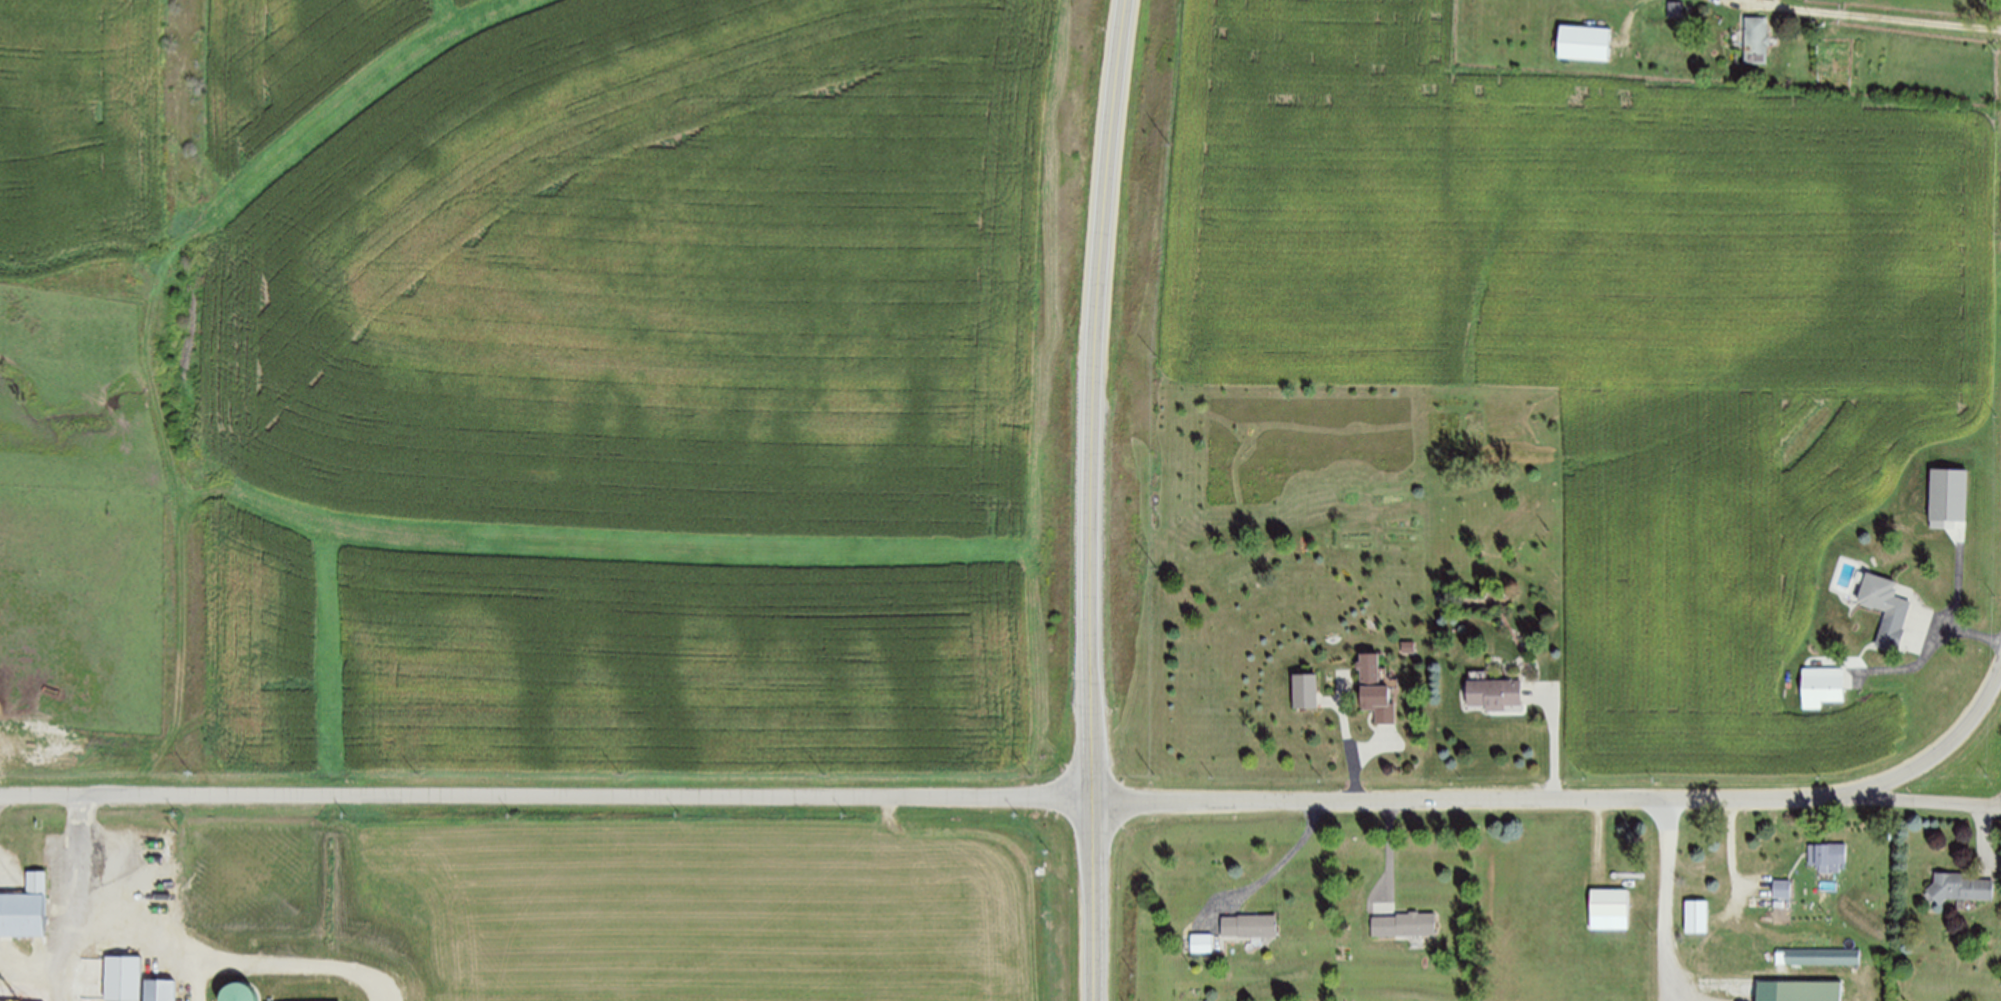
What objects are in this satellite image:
road: (1758, 3)
road: (1780, 3)
building: (1676, 9)
road: (1891, 17)
building: (1757, 38)
building: (1584, 42)
road: (327, 125)
building: (1948, 496)
road: (1098, 499)
road: (1959, 588)
building: (1886, 608)
building: (1410, 646)
road: (1927, 653)
building: (1823, 686)
building: (1305, 691)
building: (1376, 691)
building: (1495, 693)
road: (1349, 738)
road: (1555, 738)
road: (1373, 748)
road: (546, 793)
road: (1571, 798)
road: (1918, 800)
road: (1985, 839)
road: (1012, 846)
road: (1735, 852)
road: (1391, 856)
building: (1828, 856)
road: (1276, 867)
building: (1959, 887)
building: (1782, 889)
road: (74, 897)
road: (1668, 899)
building: (24, 908)
building: (1610, 910)
building: (1696, 916)
building: (1405, 924)
building: (1251, 925)
building: (1201, 943)
building: (1774, 958)
building: (122, 978)
building: (159, 990)
building: (1800, 991)

